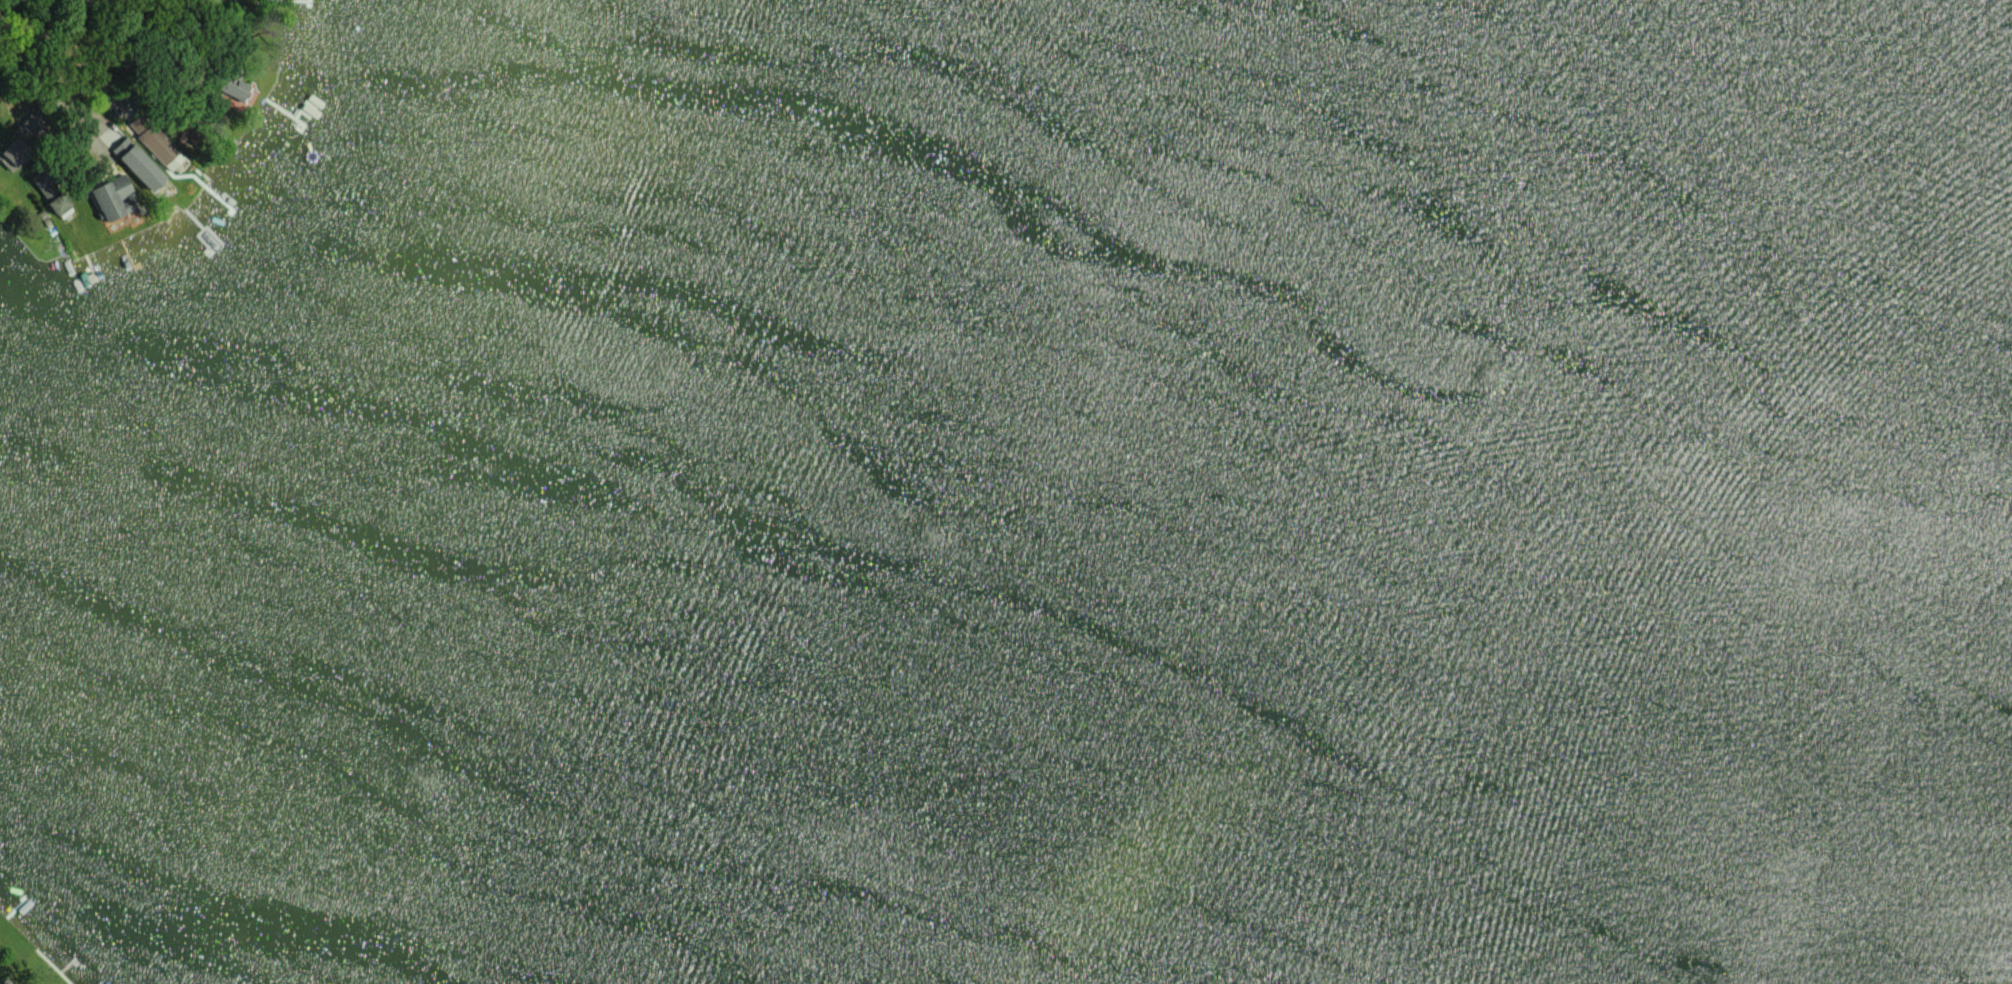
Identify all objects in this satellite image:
road: (14, 17)
road: (56, 75)
building: (232, 87)
building: (153, 141)
building: (58, 203)

